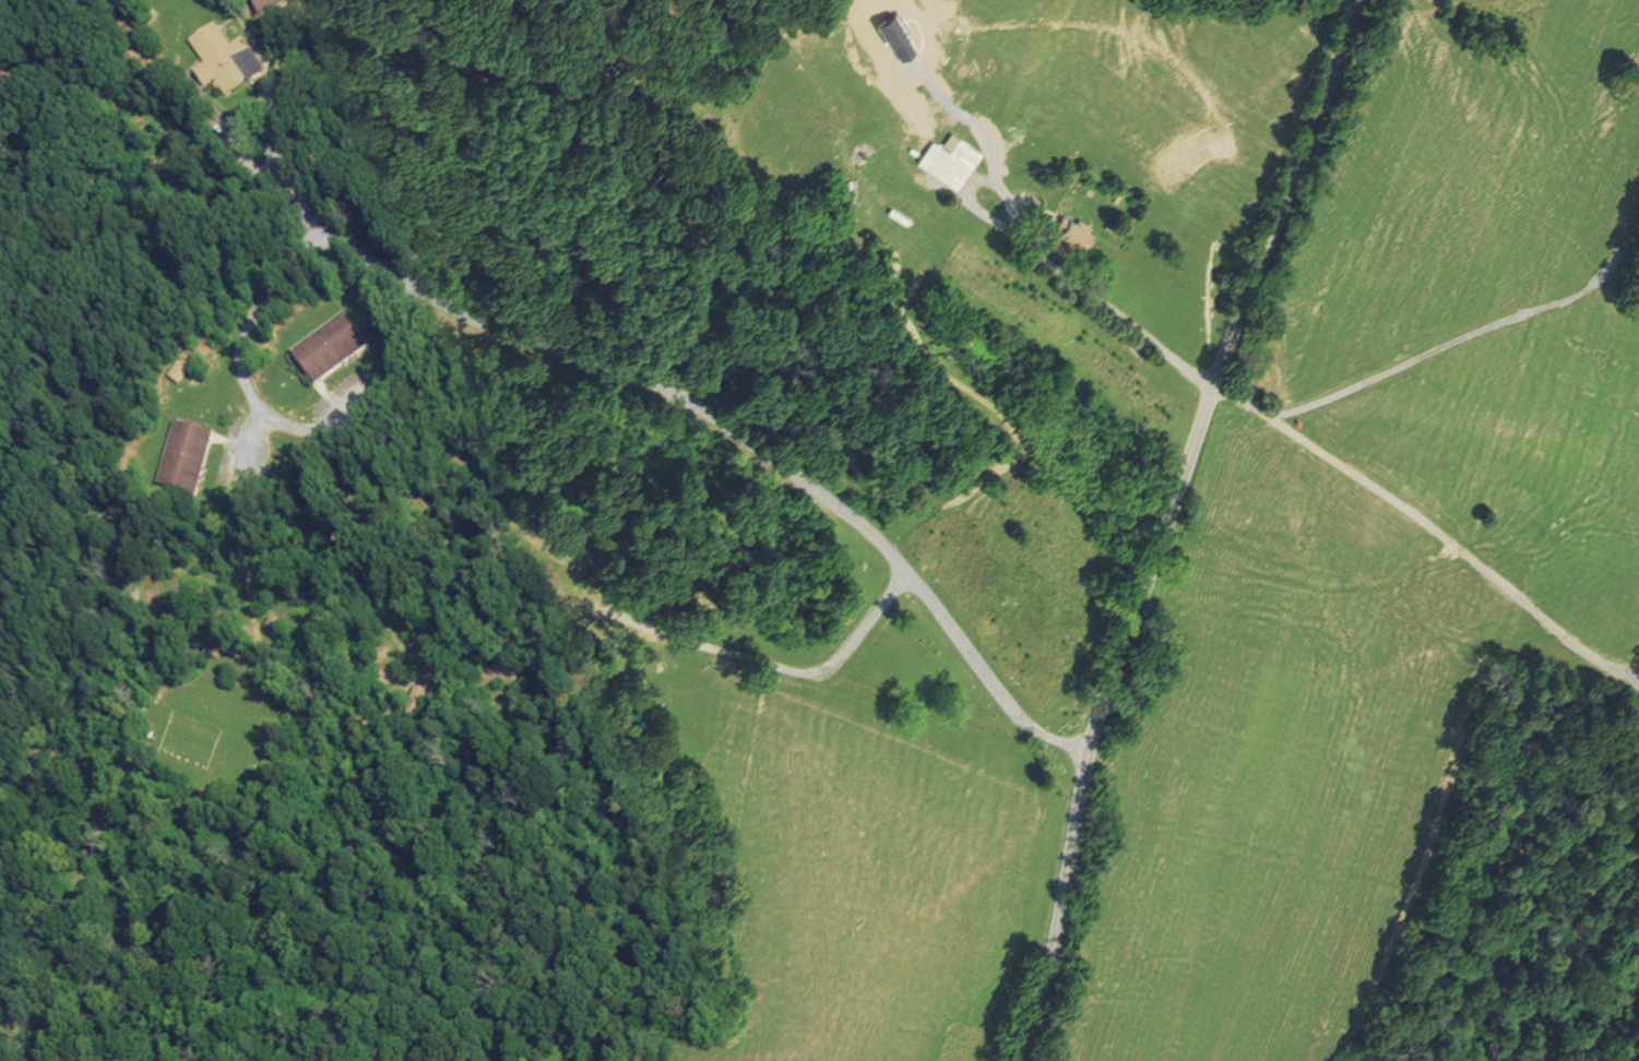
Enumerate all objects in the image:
building: (266, 4)
building: (252, 5)
building: (121, 33)
building: (222, 60)
building: (133, 61)
building: (147, 86)
building: (951, 159)
building: (1077, 230)
road: (1089, 289)
road: (1470, 338)
road: (236, 347)
building: (326, 350)
road: (691, 402)
building: (183, 460)
road: (1166, 523)
road: (1435, 526)
building: (223, 613)
building: (268, 623)
building: (239, 642)
building: (211, 651)
building: (377, 653)
building: (272, 656)
building: (591, 659)
road: (781, 665)
building: (384, 669)
building: (433, 678)
building: (444, 699)
building: (415, 706)
road: (339, 720)
building: (1636, 798)

